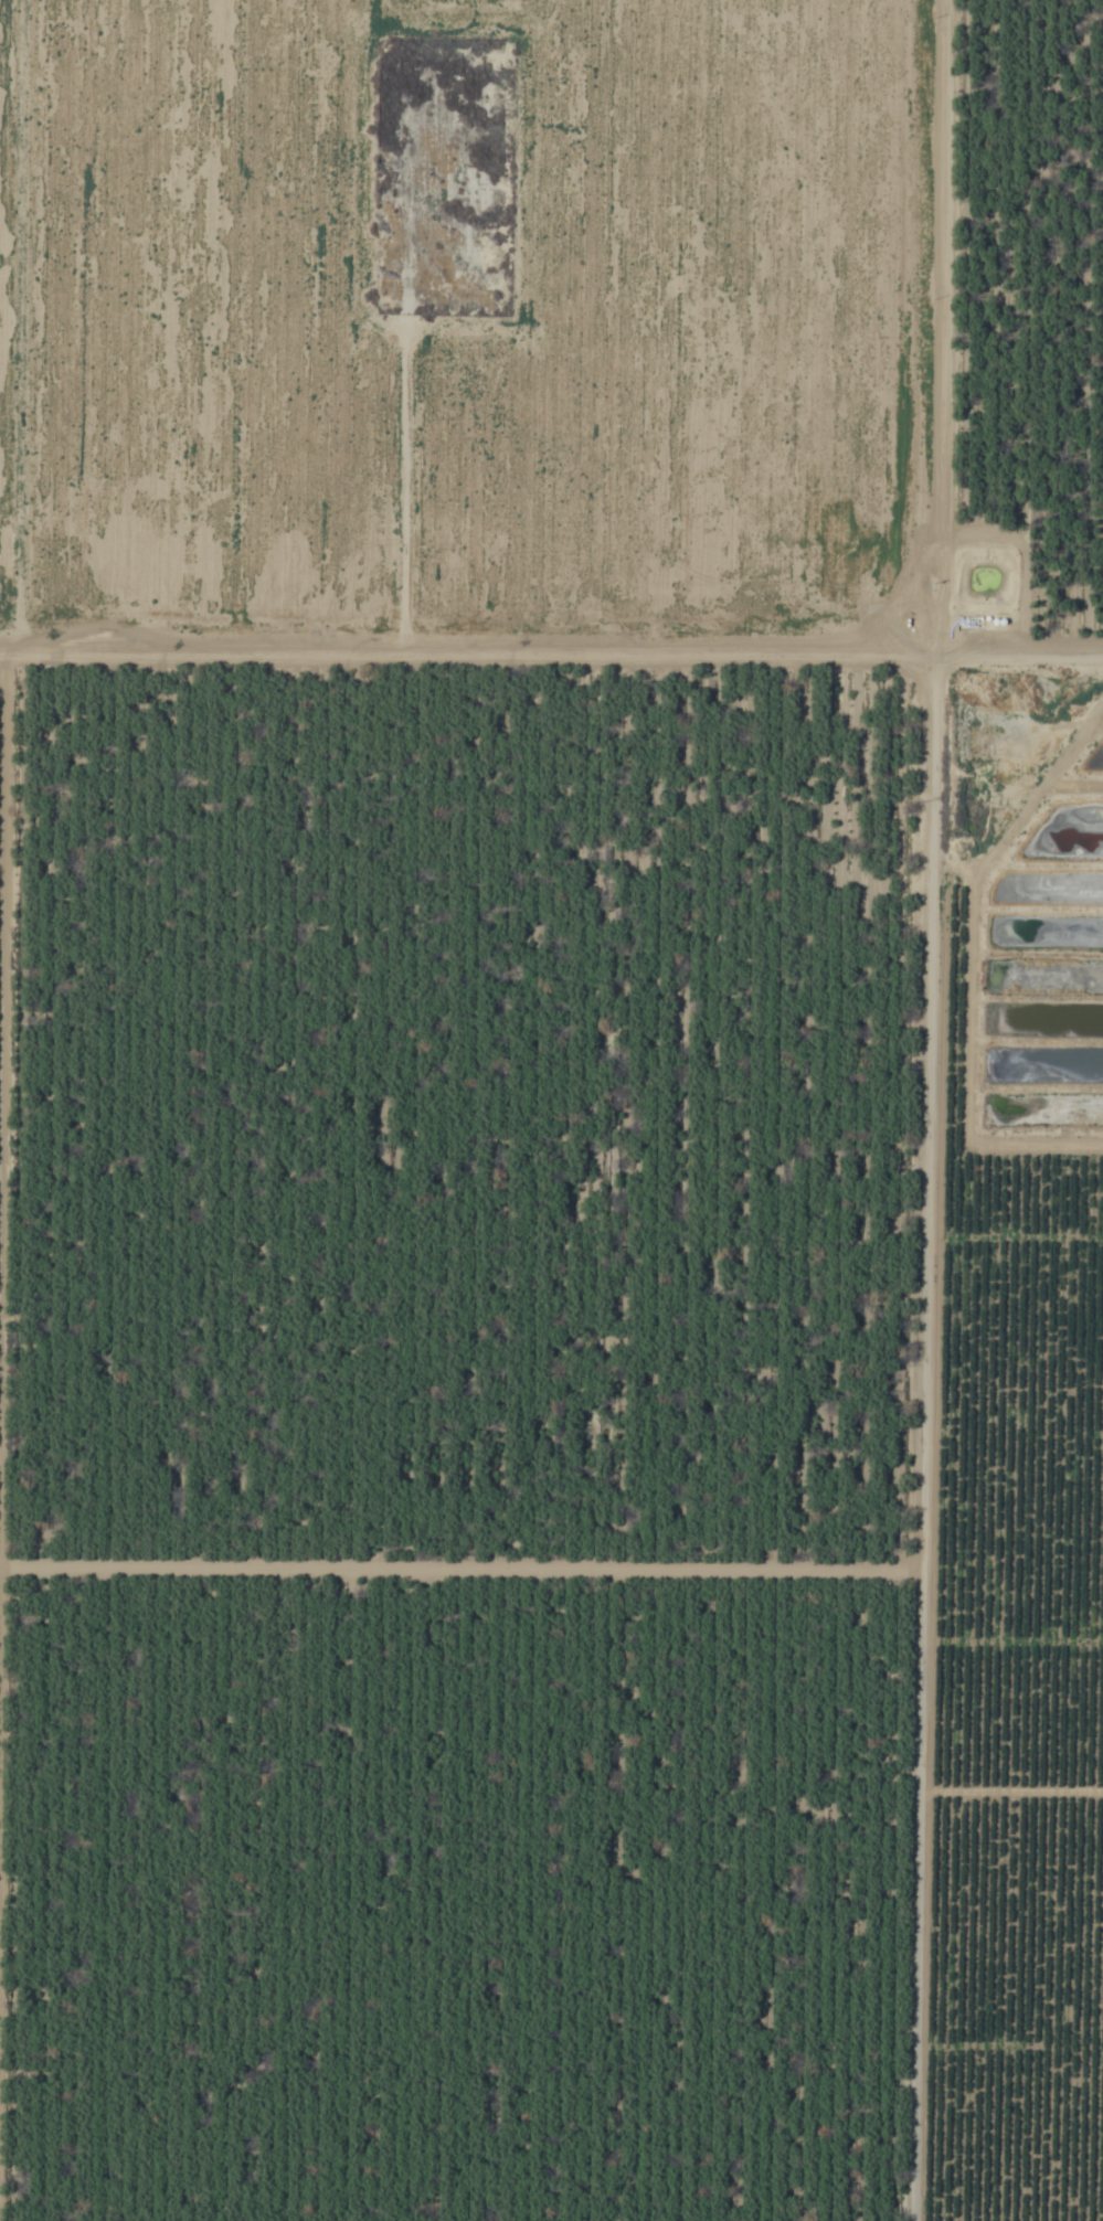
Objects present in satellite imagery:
road: (552, 669)
crop: (551, 1110)
road: (936, 1110)

